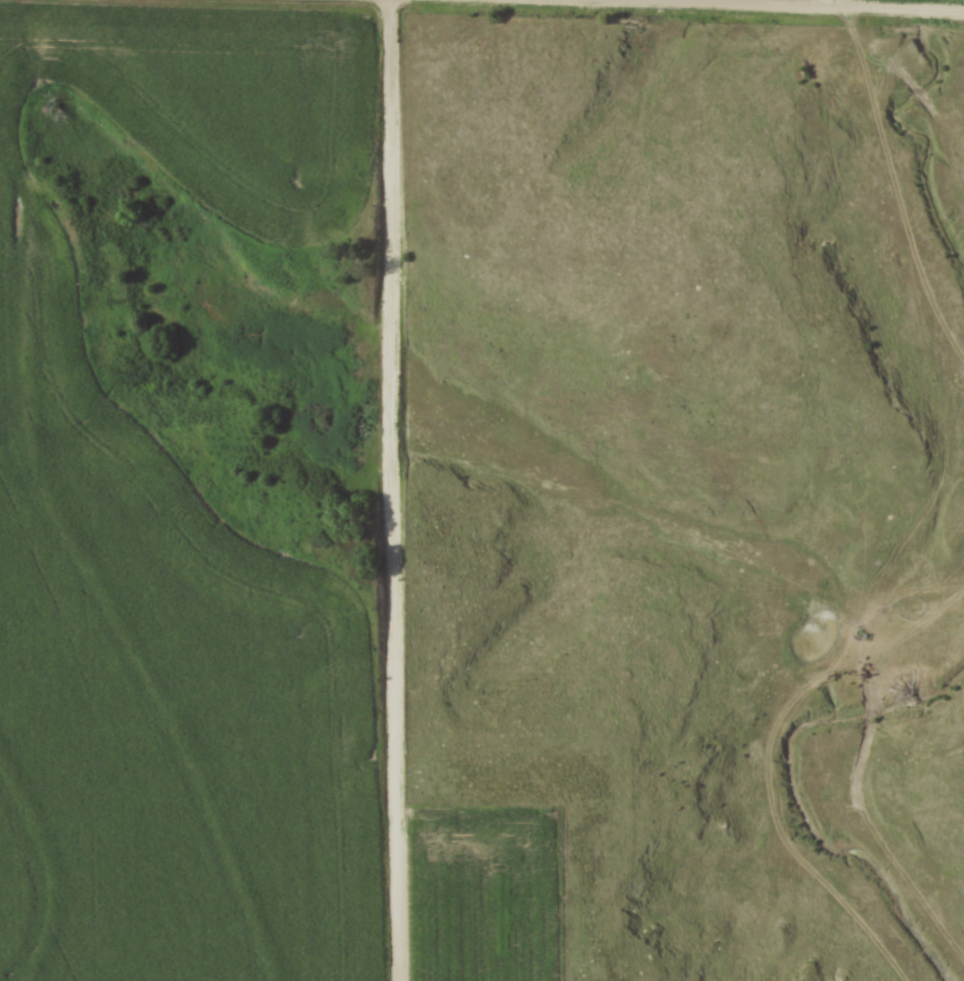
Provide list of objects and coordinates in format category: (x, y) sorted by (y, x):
road: (809, 5)
road: (395, 490)

